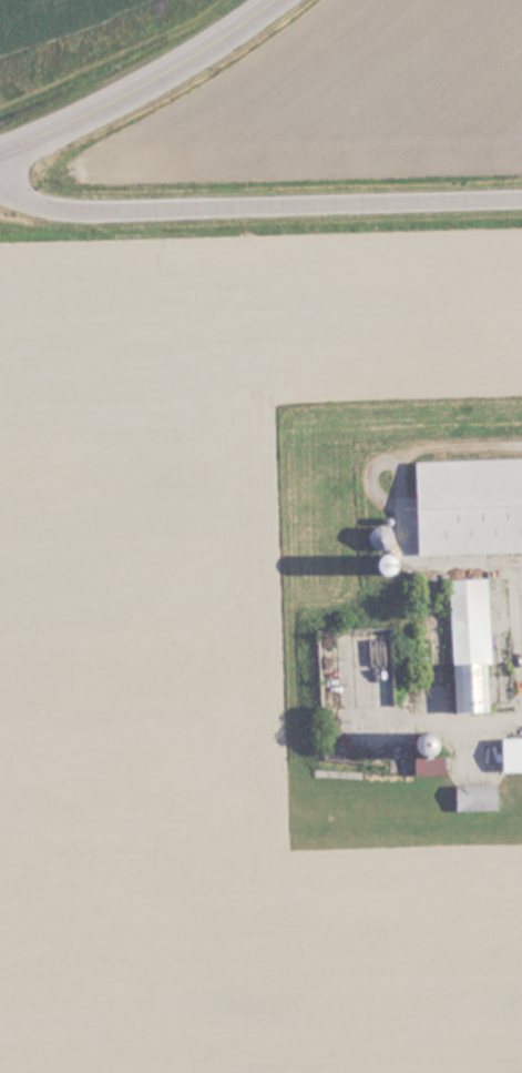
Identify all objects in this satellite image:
road: (139, 83)
road: (257, 202)
building: (474, 505)
building: (477, 644)
building: (514, 752)
building: (481, 796)

